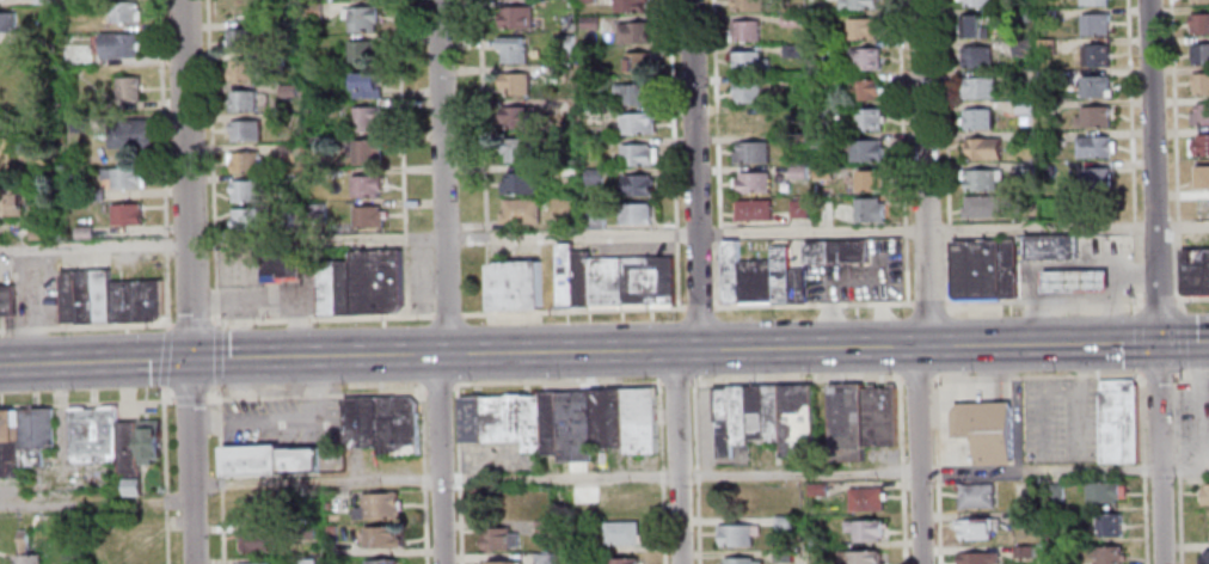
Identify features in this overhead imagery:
building: (42, 1)
building: (585, 1)
building: (1094, 1)
building: (1199, 1)
building: (974, 2)
building: (858, 5)
building: (628, 6)
building: (747, 6)
building: (311, 11)
building: (123, 13)
building: (1048, 13)
building: (515, 18)
building: (361, 19)
building: (788, 20)
building: (6, 23)
building: (589, 23)
building: (1097, 23)
building: (1199, 23)
building: (570, 24)
building: (970, 25)
building: (860, 30)
building: (744, 32)
building: (632, 33)
building: (240, 38)
building: (560, 44)
building: (118, 45)
building: (1047, 47)
building: (1021, 48)
building: (361, 51)
building: (510, 51)
building: (791, 51)
building: (1199, 53)
building: (1096, 54)
building: (976, 56)
building: (865, 59)
building: (637, 63)
building: (748, 63)
building: (240, 70)
building: (593, 72)
building: (1045, 78)
building: (1201, 82)
building: (514, 84)
building: (817, 84)
building: (1096, 85)
building: (363, 87)
building: (980, 87)
building: (128, 88)
building: (286, 90)
building: (864, 91)
building: (632, 93)
building: (747, 93)
building: (243, 102)
building: (1026, 104)
building: (1049, 105)
building: (313, 109)
road: (1130, 109)
road: (1173, 109)
road: (945, 111)
road: (481, 114)
building: (1199, 114)
road: (400, 115)
building: (820, 115)
building: (516, 116)
building: (1094, 116)
building: (976, 117)
building: (364, 118)
building: (869, 119)
building: (636, 127)
building: (245, 131)
building: (129, 135)
building: (1027, 136)
building: (1049, 137)
building: (314, 141)
building: (820, 142)
building: (1199, 145)
building: (591, 146)
building: (1096, 146)
building: (982, 148)
building: (864, 149)
building: (516, 151)
road: (902, 151)
building: (286, 153)
building: (366, 153)
road: (714, 153)
road: (673, 154)
building: (750, 154)
building: (634, 157)
building: (8, 159)
building: (244, 161)
road: (164, 163)
road: (213, 163)
building: (1029, 166)
building: (561, 171)
building: (796, 173)
building: (821, 173)
road: (693, 174)
building: (593, 176)
road: (441, 177)
building: (1199, 177)
building: (124, 178)
building: (981, 178)
building: (1096, 179)
building: (867, 183)
building: (517, 184)
building: (751, 184)
building: (364, 185)
building: (636, 188)
building: (246, 191)
building: (92, 195)
building: (10, 203)
building: (982, 206)
building: (1026, 206)
building: (1050, 206)
building: (798, 209)
building: (822, 210)
building: (867, 210)
building: (314, 211)
building: (518, 213)
building: (751, 213)
building: (125, 214)
building: (634, 215)
building: (367, 216)
building: (247, 219)
building: (594, 219)
building: (291, 221)
road: (1134, 225)
road: (1178, 225)
building: (37, 229)
road: (945, 229)
building: (82, 233)
road: (603, 234)
road: (485, 235)
road: (404, 238)
road: (1135, 249)
building: (1050, 250)
building: (834, 251)
building: (280, 268)
building: (983, 268)
road: (1174, 269)
building: (1192, 269)
road: (944, 270)
road: (1136, 274)
parking lot: (860, 277)
road: (485, 278)
building: (760, 278)
building: (610, 280)
road: (839, 280)
road: (190, 281)
road: (404, 281)
road: (1155, 281)
road: (926, 282)
building: (374, 283)
building: (1073, 283)
building: (514, 284)
building: (332, 288)
road: (1136, 294)
building: (84, 298)
road: (1192, 298)
road: (1133, 299)
road: (1158, 299)
road: (1074, 300)
building: (6, 301)
building: (135, 302)
road: (867, 302)
road: (698, 307)
road: (572, 311)
street lamp: (900, 311)
road: (446, 314)
road: (323, 319)
road: (192, 323)
road: (85, 326)
road: (1182, 337)
road: (1136, 338)
traffic signals: (1156, 343)
road: (603, 351)
road: (217, 355)
road: (165, 356)
traffic signals: (190, 361)
road: (1184, 372)
road: (1137, 373)
road: (1156, 374)
road: (1190, 374)
road: (915, 378)
road: (674, 381)
road: (554, 382)
road: (437, 388)
road: (314, 394)
road: (0, 399)
road: (189, 399)
road: (1075, 399)
road: (86, 403)
road: (1042, 404)
building: (765, 418)
road: (1139, 418)
road: (1176, 418)
building: (604, 419)
building: (860, 419)
building: (1116, 421)
building: (501, 422)
parking lot: (1057, 422)
building: (381, 423)
building: (638, 423)
parking lot: (287, 424)
building: (547, 424)
building: (8, 425)
building: (572, 428)
building: (36, 429)
building: (984, 431)
building: (93, 435)
building: (148, 442)
road: (675, 456)
building: (128, 458)
building: (10, 459)
building: (271, 459)
road: (438, 459)
road: (1176, 468)
road: (900, 470)
road: (1141, 470)
road: (934, 471)
road: (658, 472)
road: (693, 472)
road: (217, 473)
road: (162, 474)
road: (699, 474)
road: (455, 476)
road: (421, 478)
building: (816, 491)
building: (1054, 492)
building: (1203, 492)
building: (1103, 493)
building: (976, 497)
building: (865, 501)
road: (96, 503)
building: (619, 503)
building: (376, 505)
building: (1058, 517)
building: (1019, 519)
road: (1177, 520)
road: (1142, 521)
building: (781, 523)
building: (1105, 526)
building: (542, 527)
building: (326, 529)
building: (864, 531)
building: (972, 531)
building: (620, 533)
building: (735, 535)
building: (379, 537)
building: (498, 538)
building: (256, 540)
building: (817, 541)
building: (577, 542)
building: (135, 545)
building: (24, 550)
building: (1021, 553)
building: (781, 556)
building: (1109, 557)
building: (1203, 557)
building: (859, 558)
building: (541, 559)
building: (977, 559)
building: (620, 560)
building: (306, 562)
building: (381, 562)
building: (738, 562)
building: (256, 563)
building: (504, 563)

